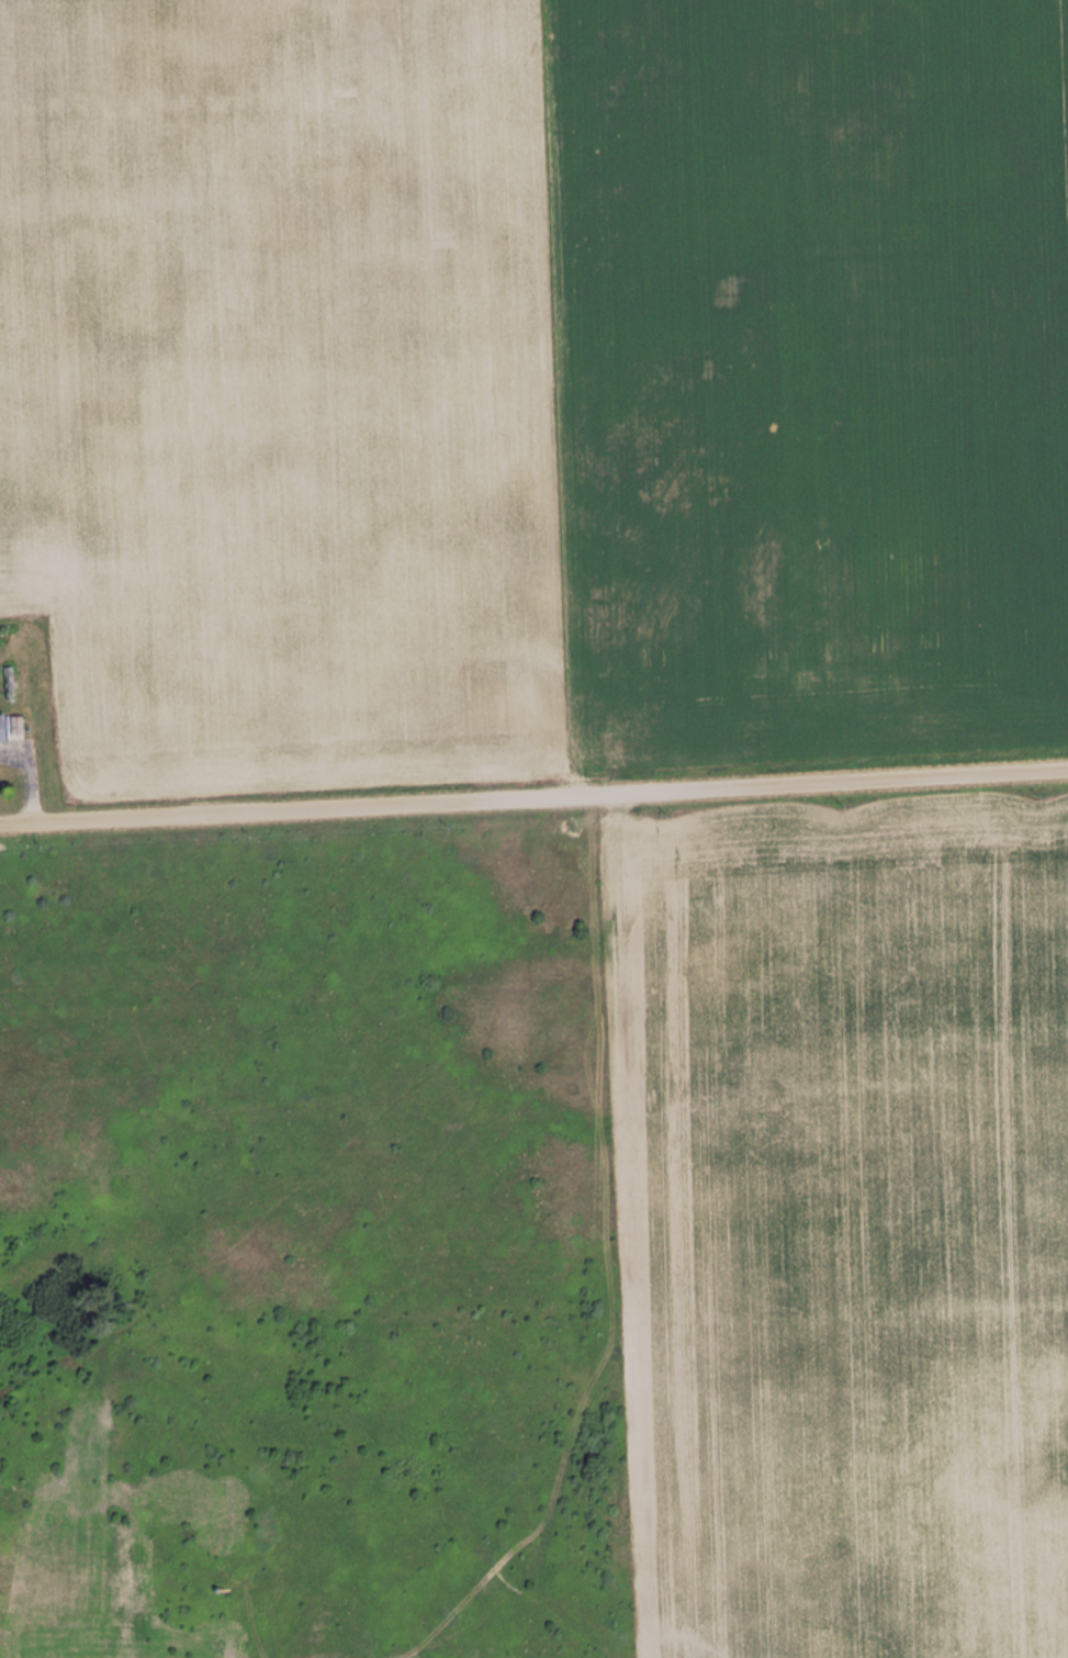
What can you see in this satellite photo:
crop: (526, 380)
building: (2, 731)
road: (533, 797)
crop: (847, 1229)

